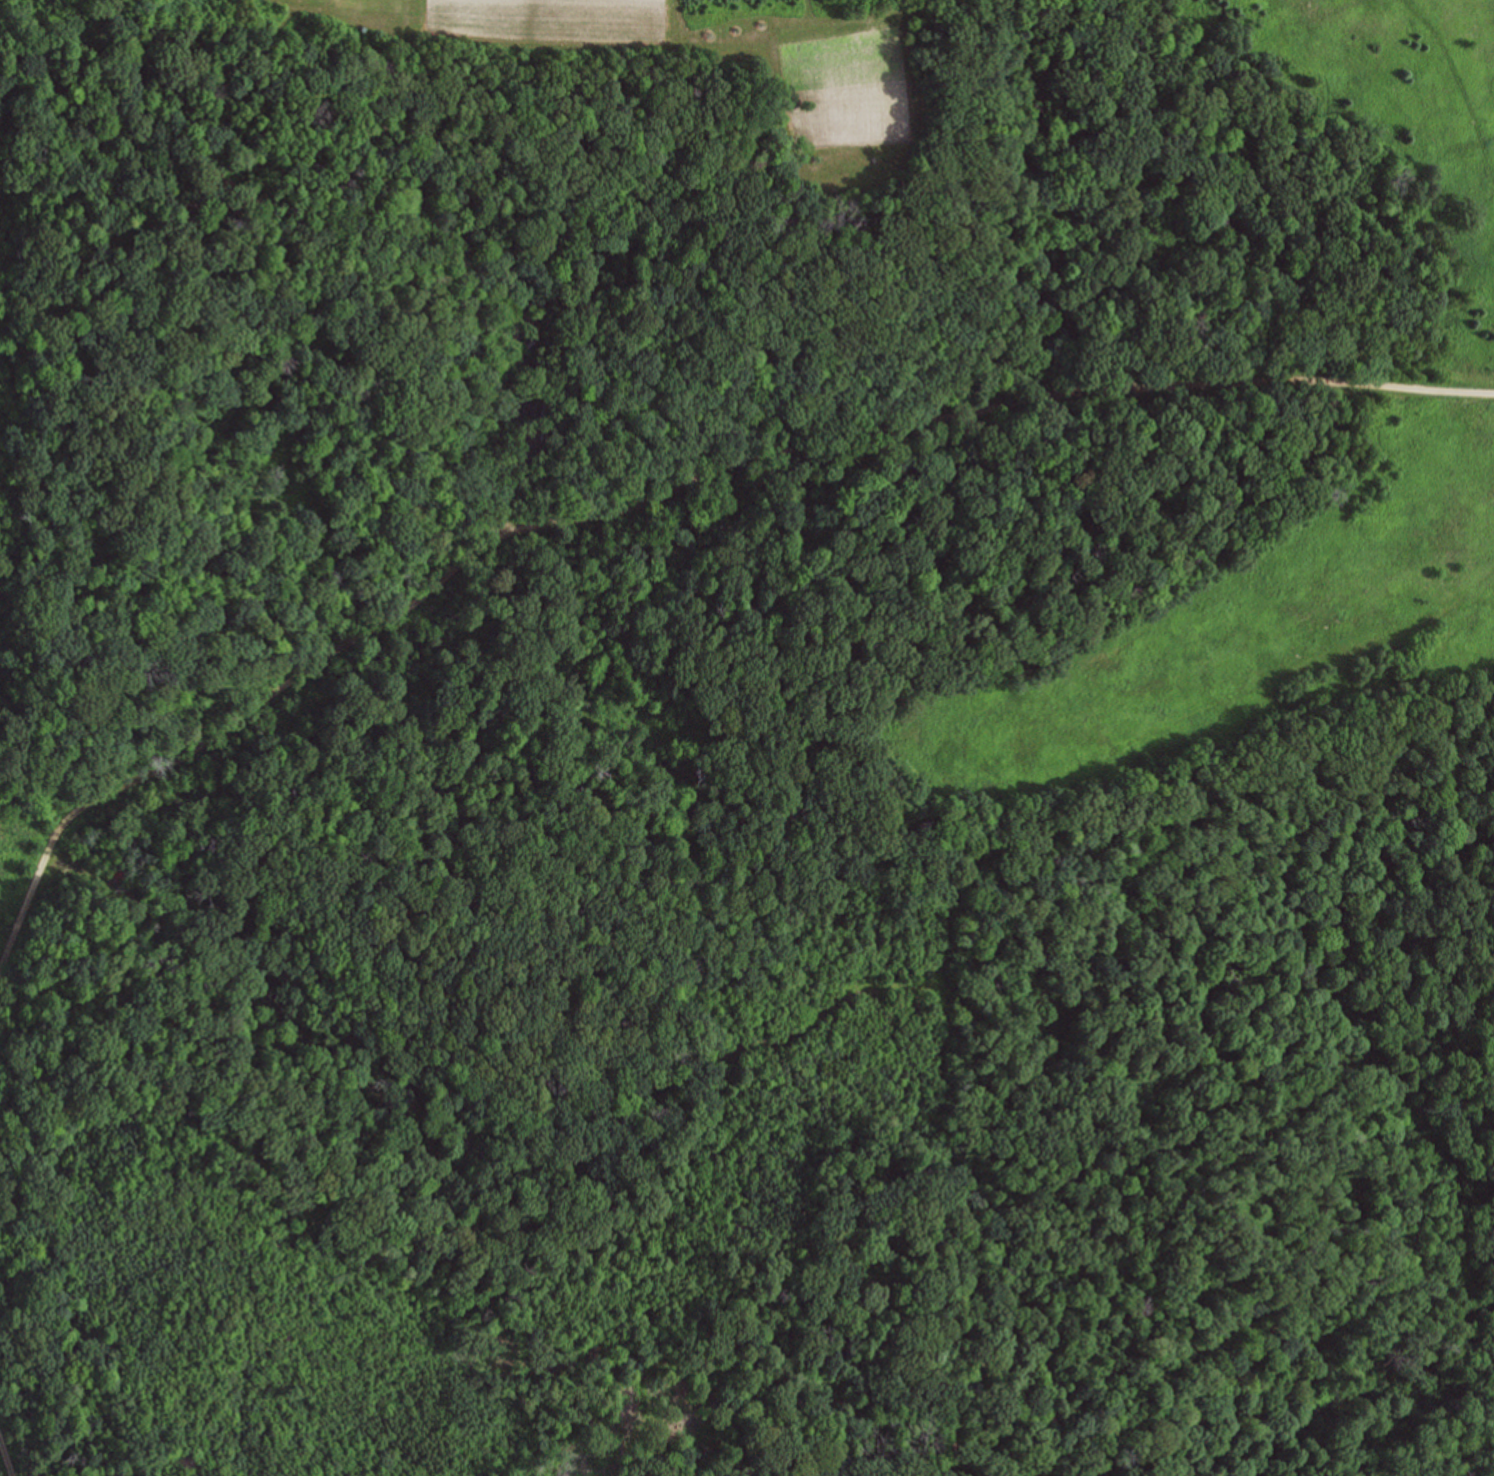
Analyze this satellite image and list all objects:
road: (5, 1460)

